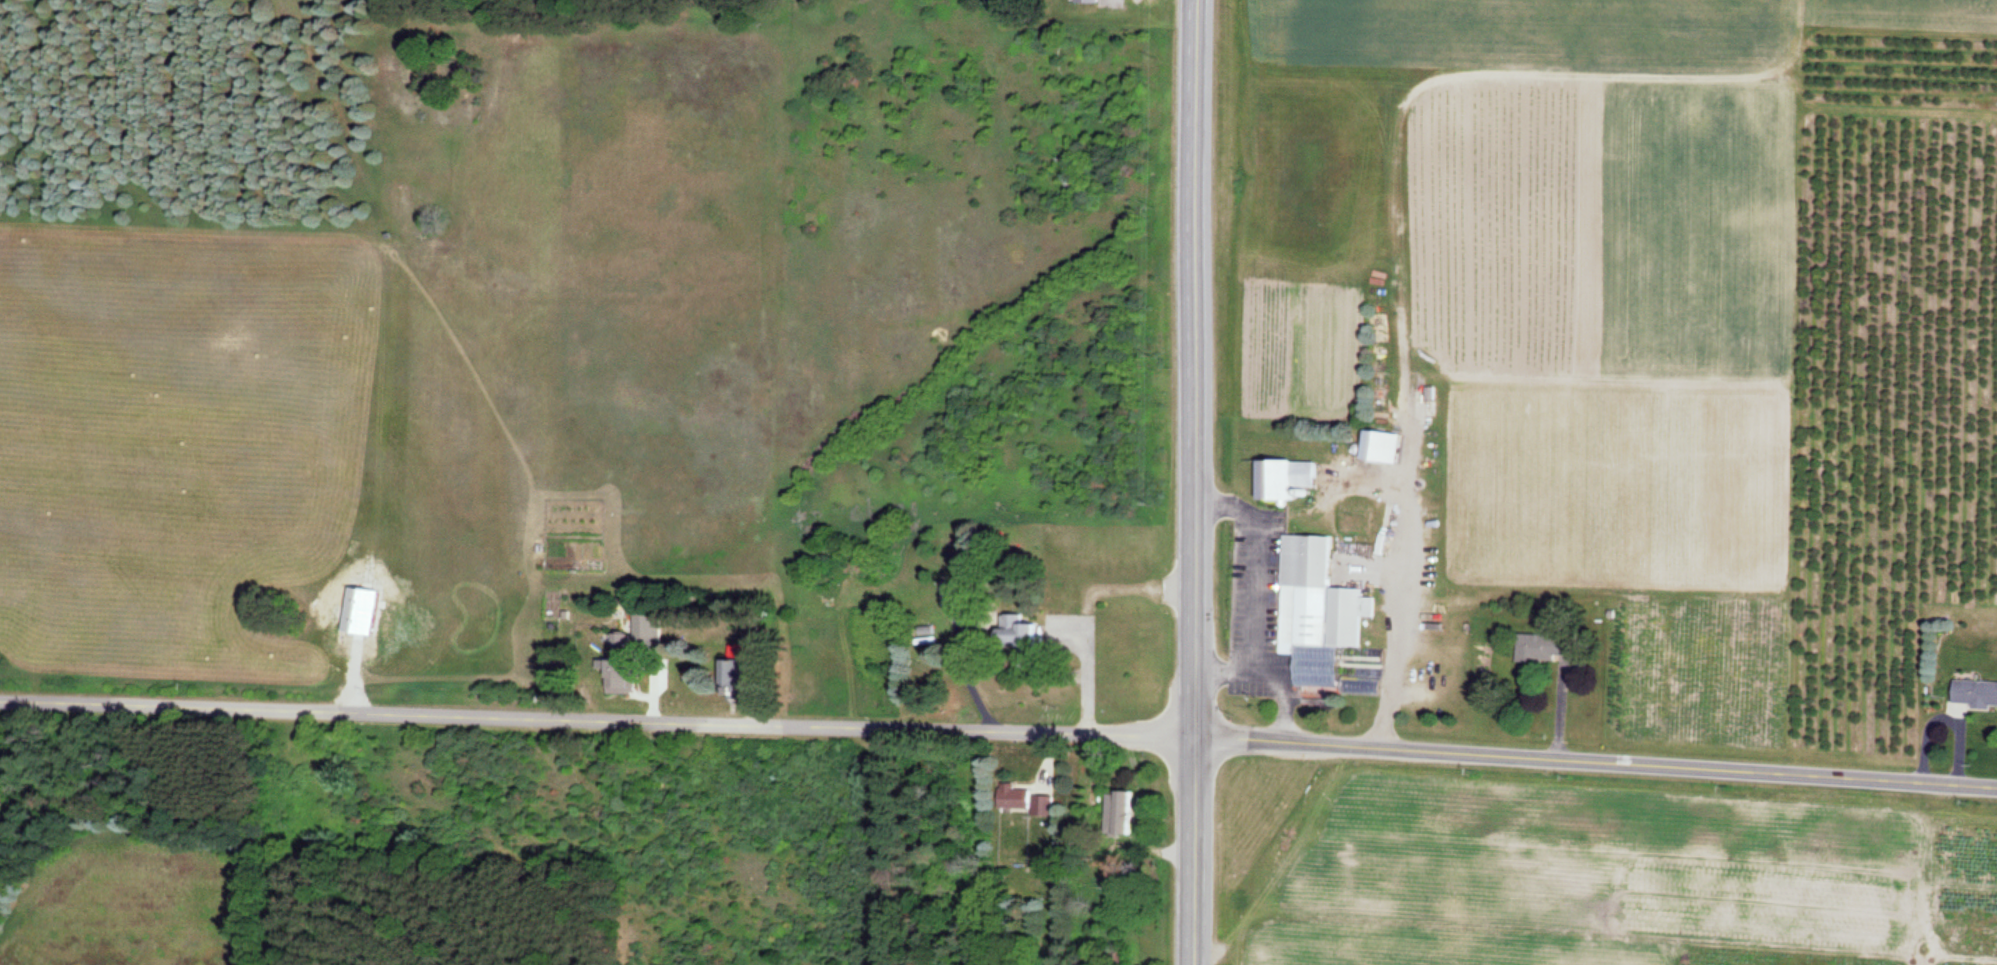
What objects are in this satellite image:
building: (1085, 1)
building: (1373, 234)
building: (1282, 481)
road: (1194, 482)
building: (1316, 615)
building: (1016, 634)
building: (1540, 641)
building: (1974, 693)
road: (598, 723)
road: (1596, 763)
building: (1012, 797)
building: (1041, 805)

